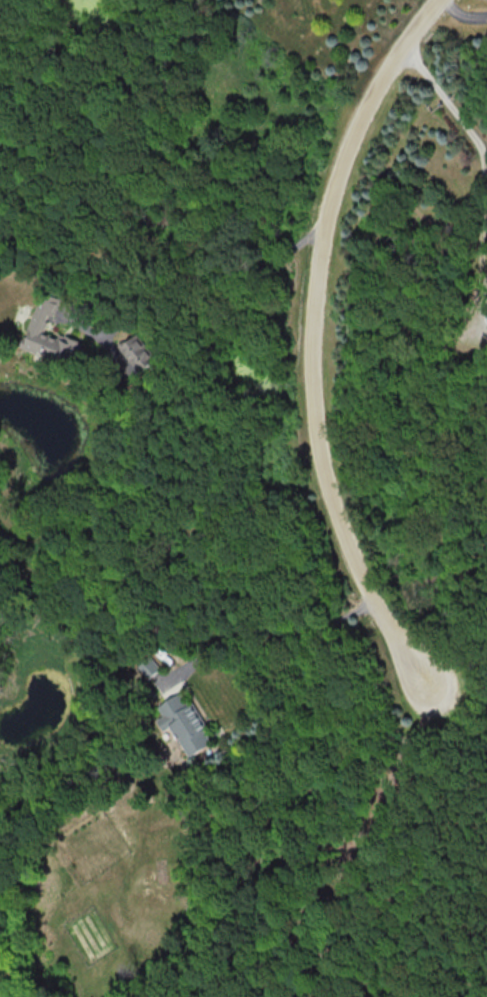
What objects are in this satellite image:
road: (463, 13)
road: (445, 98)
road: (215, 273)
building: (43, 314)
building: (138, 352)
road: (308, 356)
road: (275, 632)
road: (451, 654)
building: (147, 668)
building: (186, 723)

